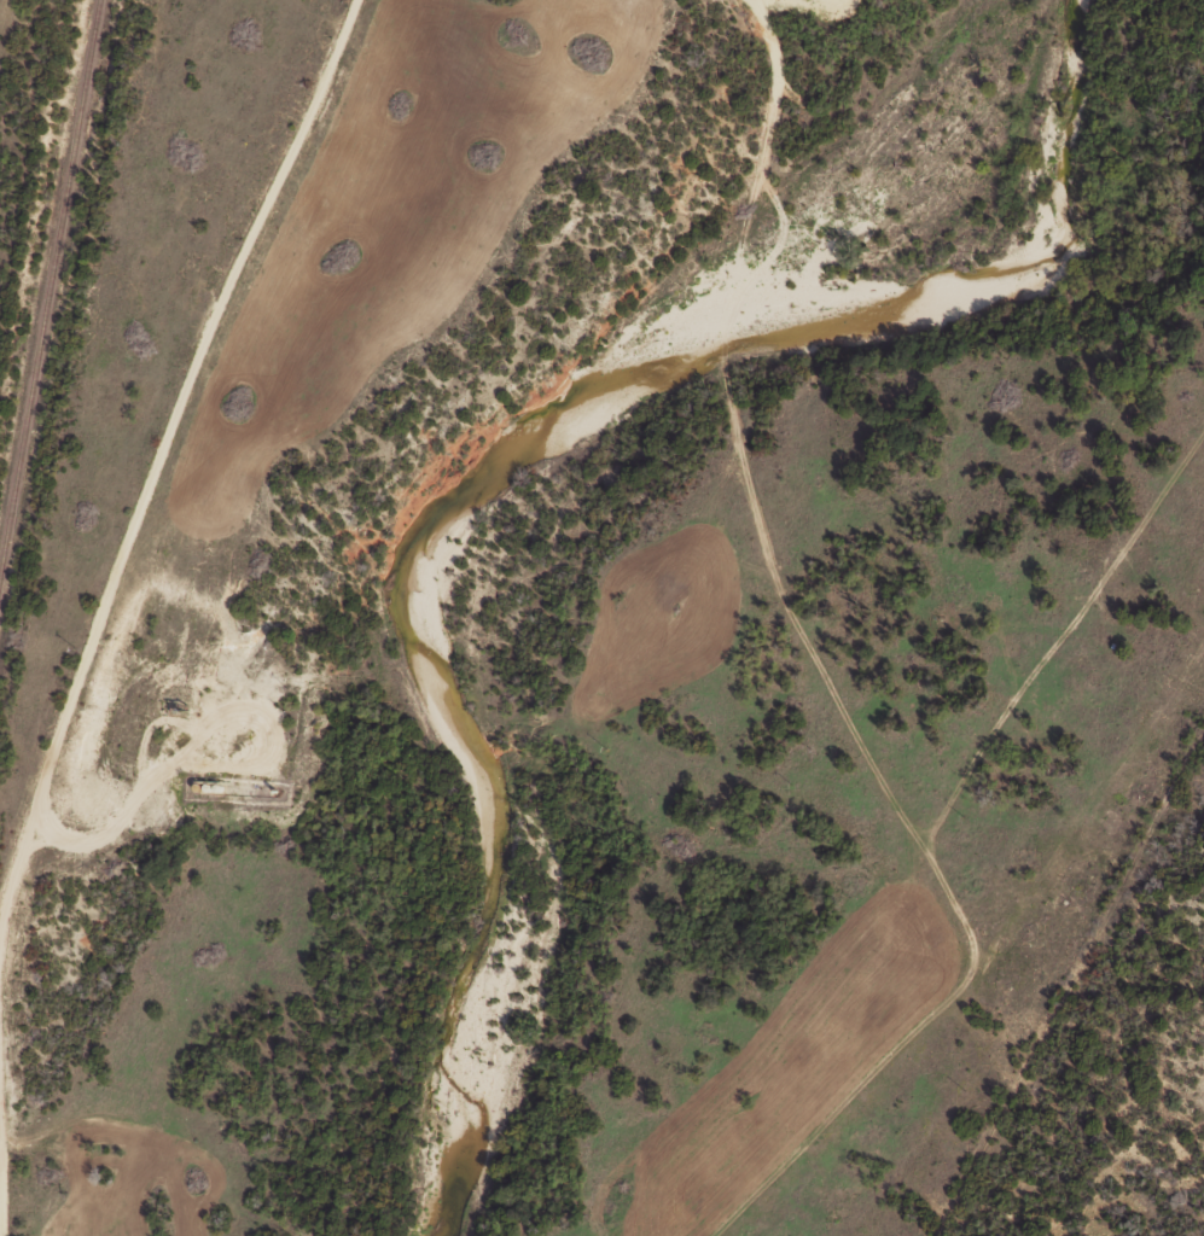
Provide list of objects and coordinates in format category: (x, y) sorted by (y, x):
railway: (45, 266)
road: (156, 465)
road: (824, 674)
road: (1036, 1046)
road: (0, 1142)
road: (1, 1174)

